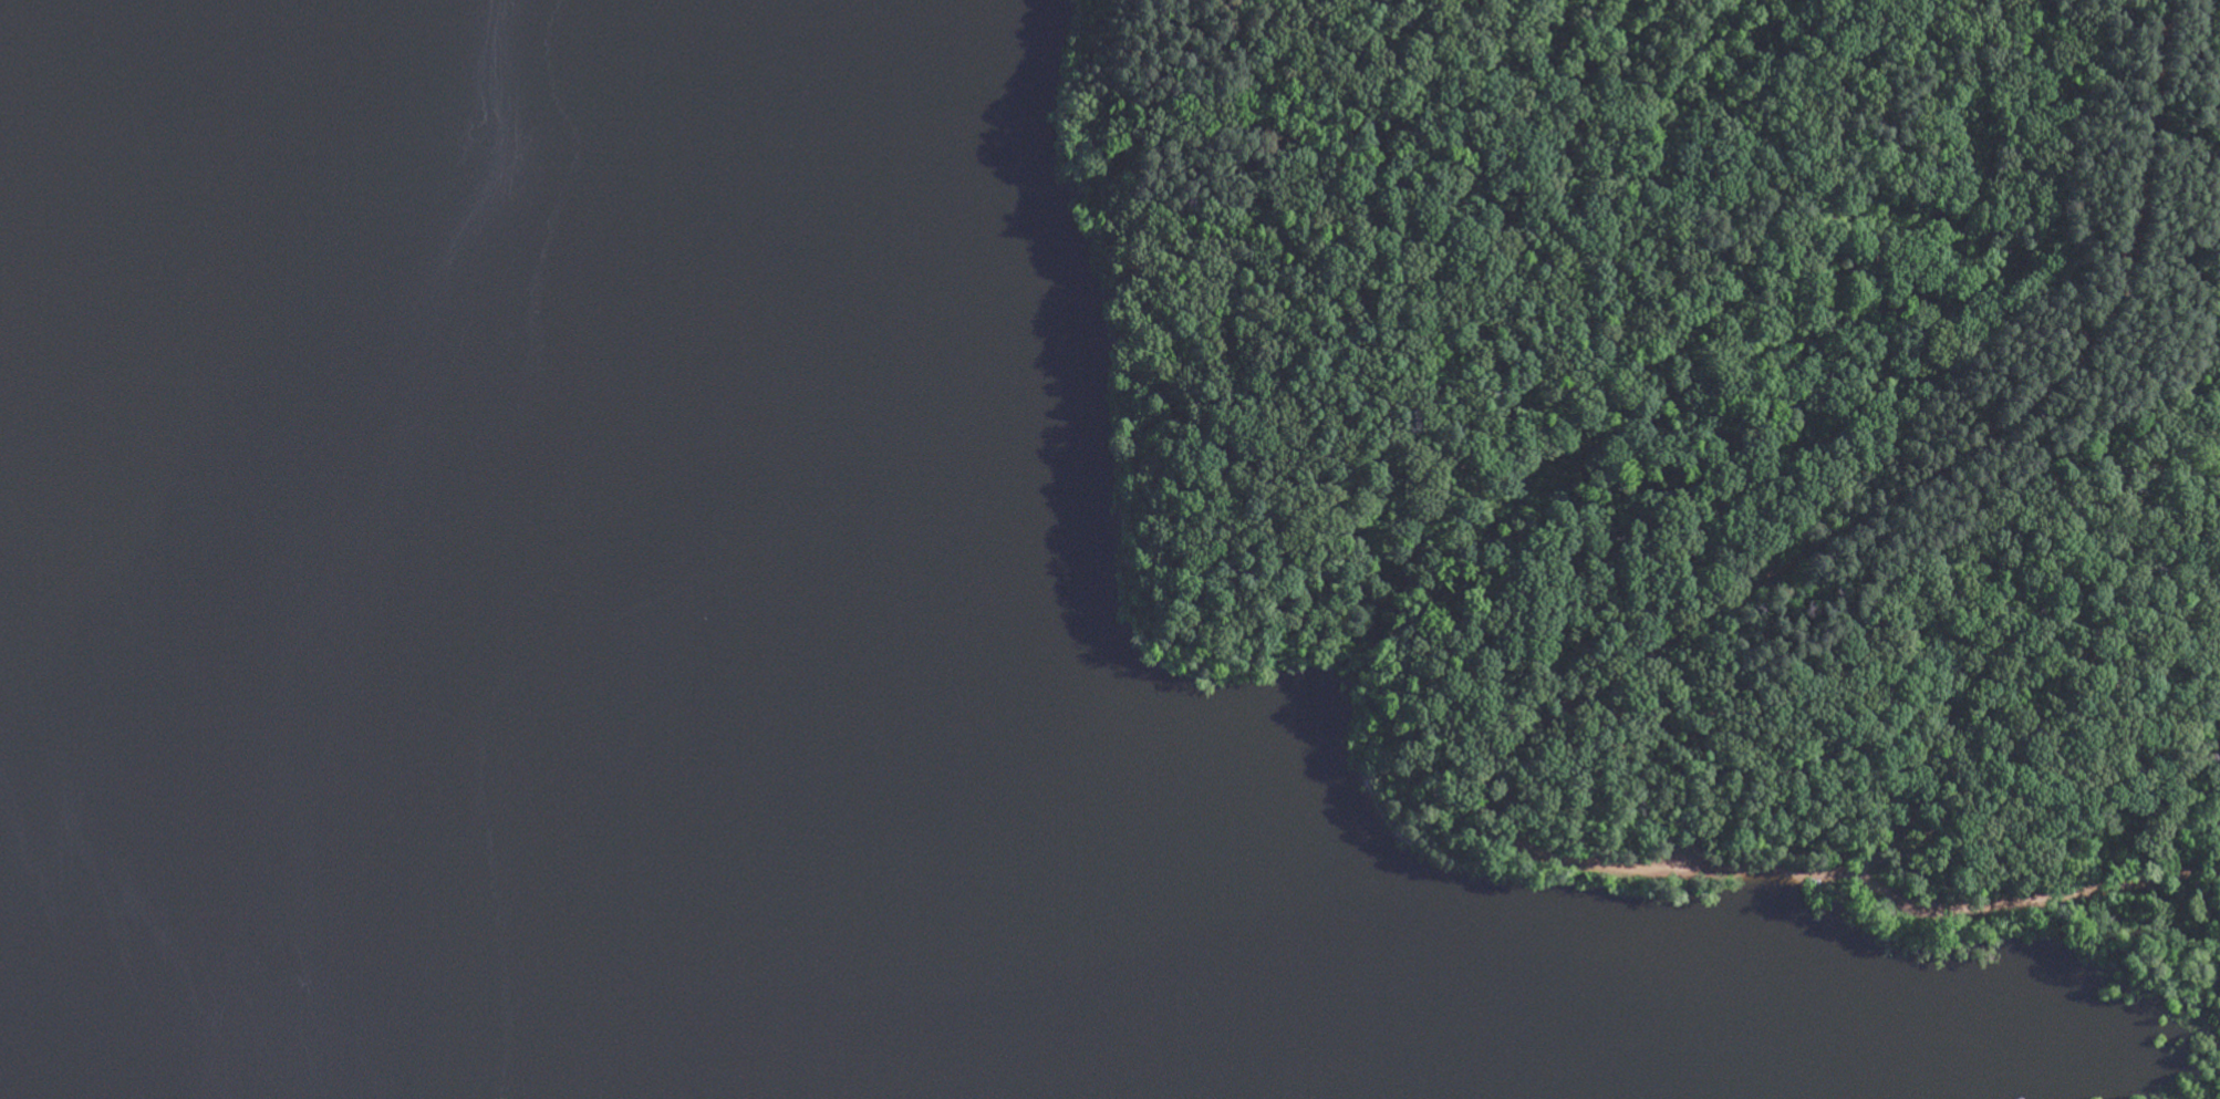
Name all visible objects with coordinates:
road: (1663, 256)
road: (1903, 496)
river: (328, 560)
road: (1865, 880)

